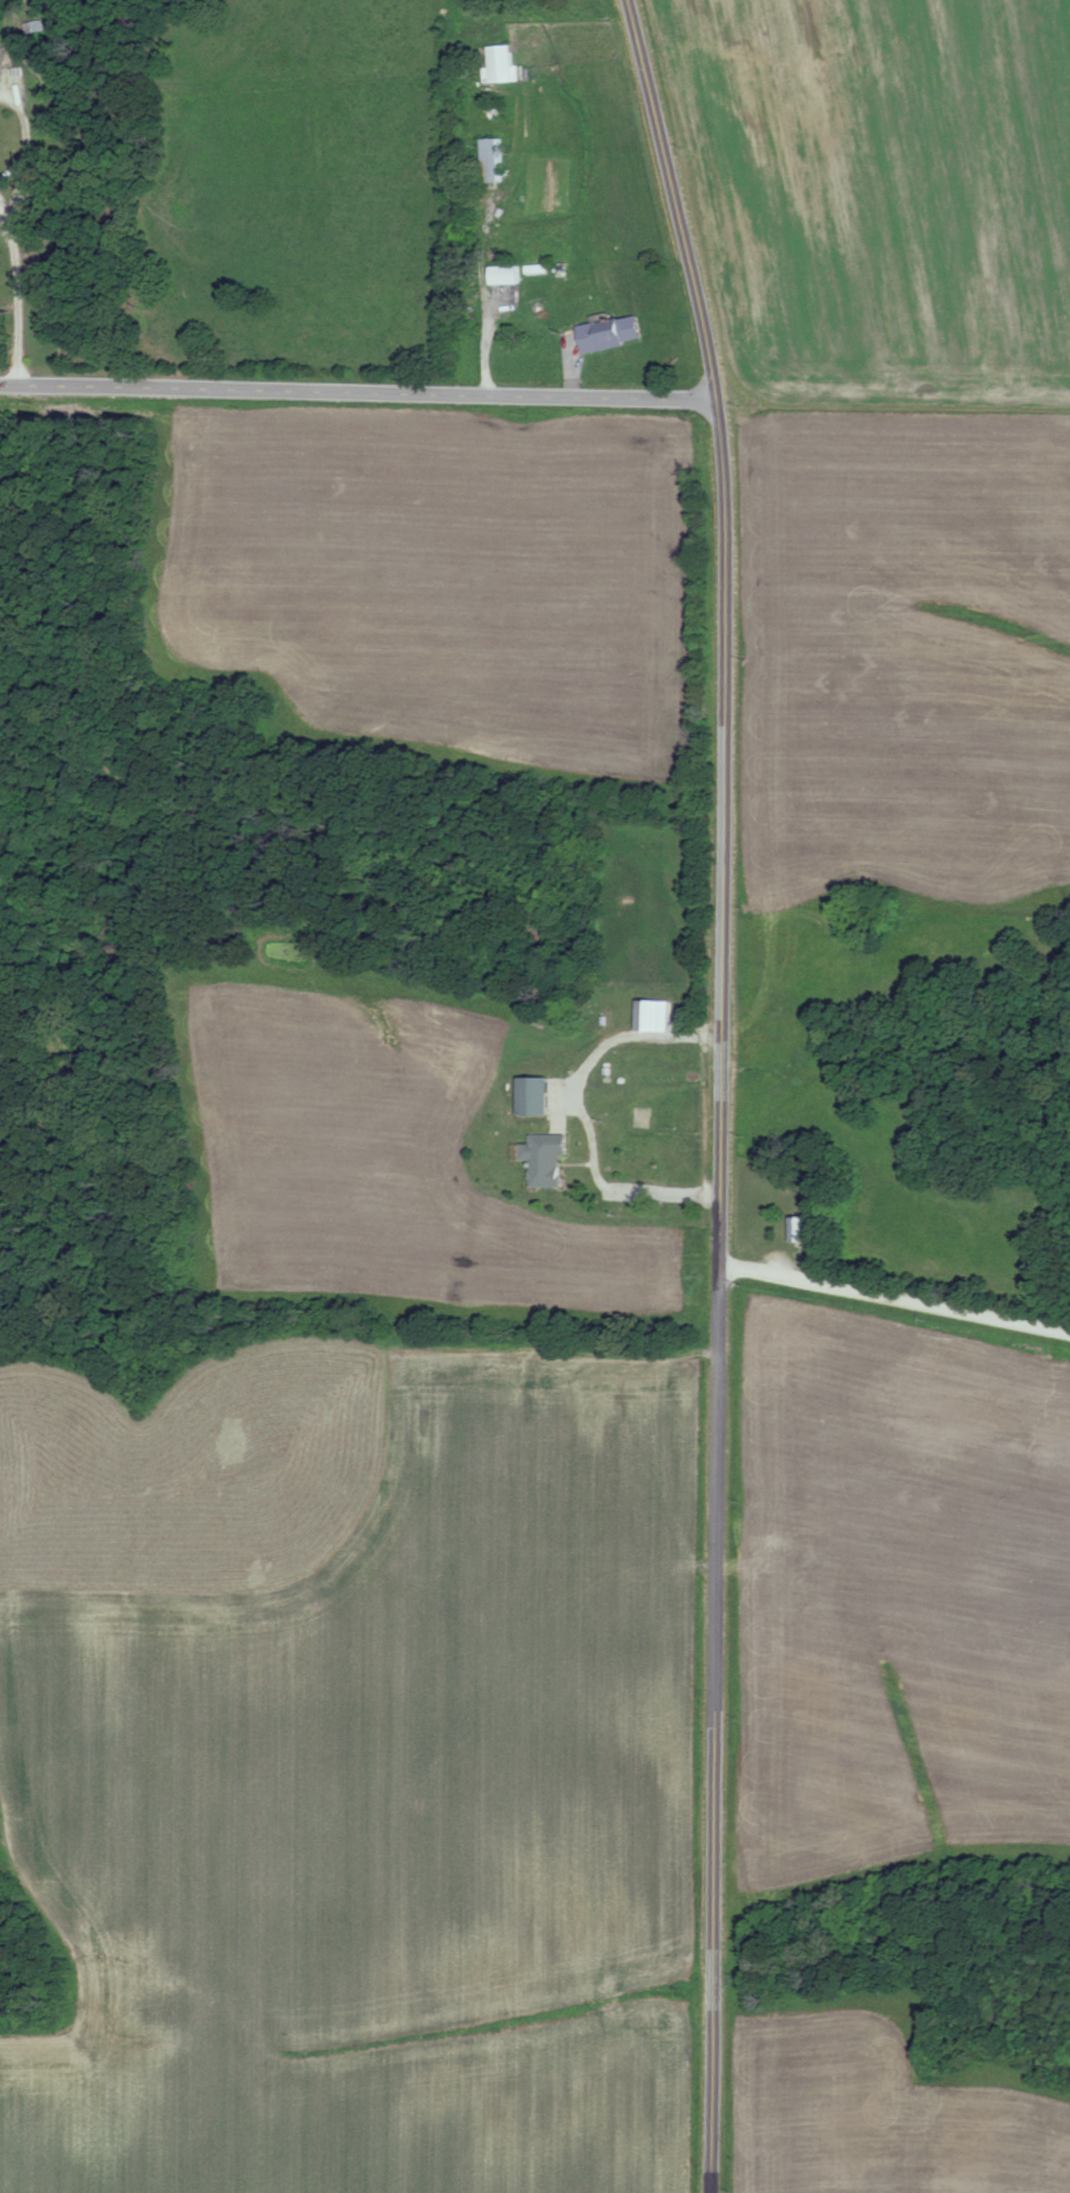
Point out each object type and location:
building: (501, 64)
building: (494, 162)
road: (474, 248)
building: (540, 271)
building: (508, 275)
road: (22, 284)
building: (613, 334)
road: (358, 393)
road: (542, 966)
building: (654, 1017)
road: (724, 1090)
building: (536, 1097)
road: (580, 1111)
building: (549, 1160)
building: (801, 1231)
road: (896, 1302)

